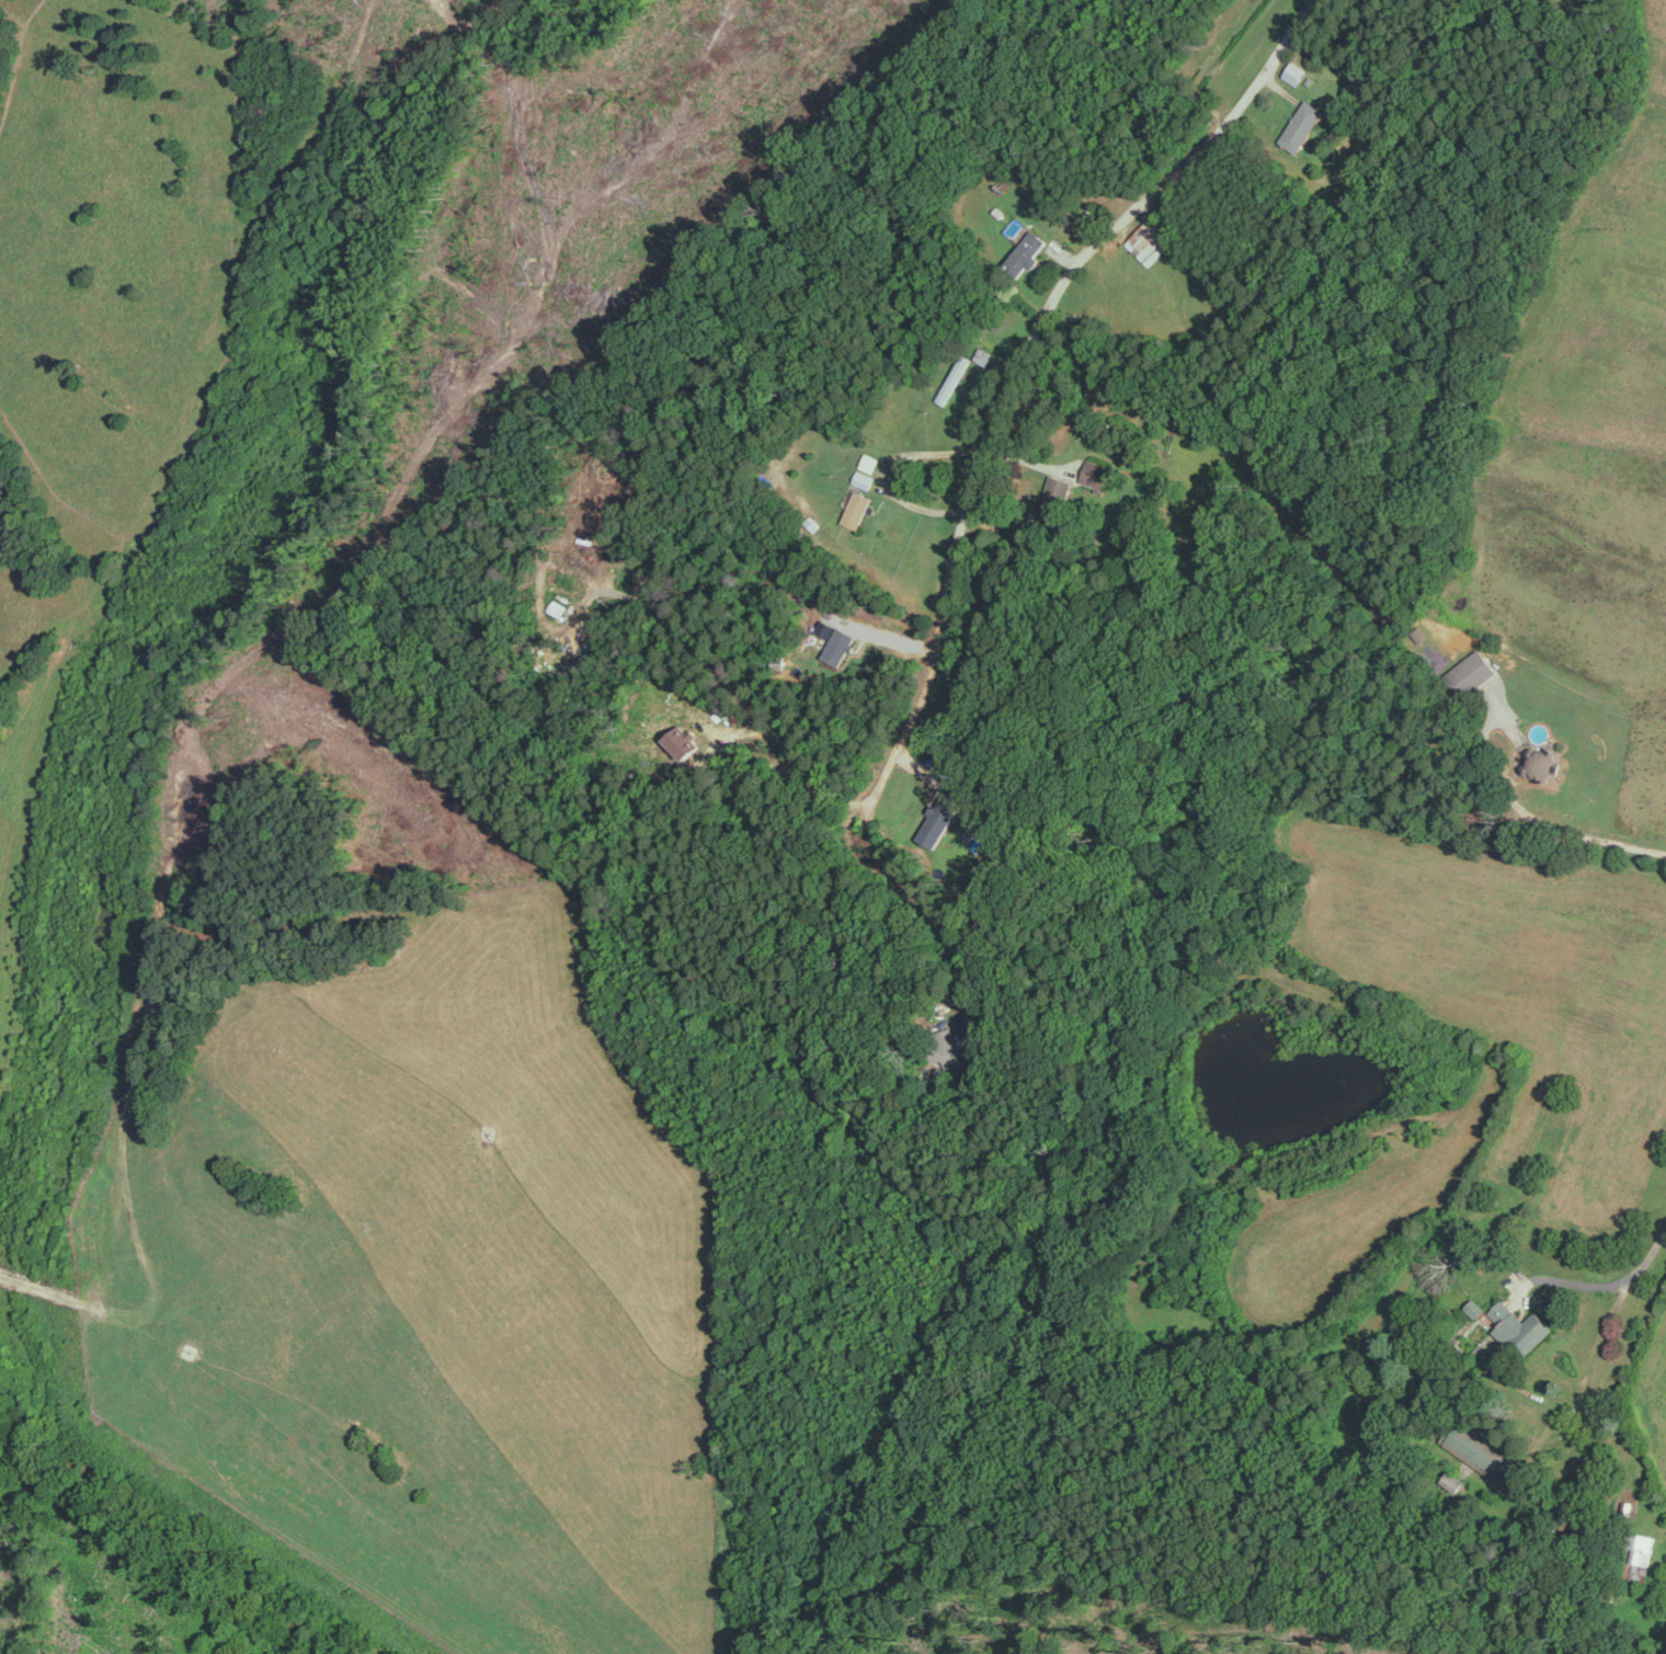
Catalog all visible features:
building: (1296, 71)
building: (1303, 124)
building: (1148, 240)
building: (1025, 251)
road: (1027, 347)
road: (890, 471)
building: (1098, 472)
building: (863, 479)
building: (1057, 493)
building: (857, 509)
building: (1472, 671)
building: (687, 744)
road: (794, 763)
building: (1541, 764)
building: (944, 814)
road: (1534, 820)
road: (911, 883)
road: (1623, 1294)
building: (1475, 1308)
building: (1520, 1327)
building: (1483, 1451)

